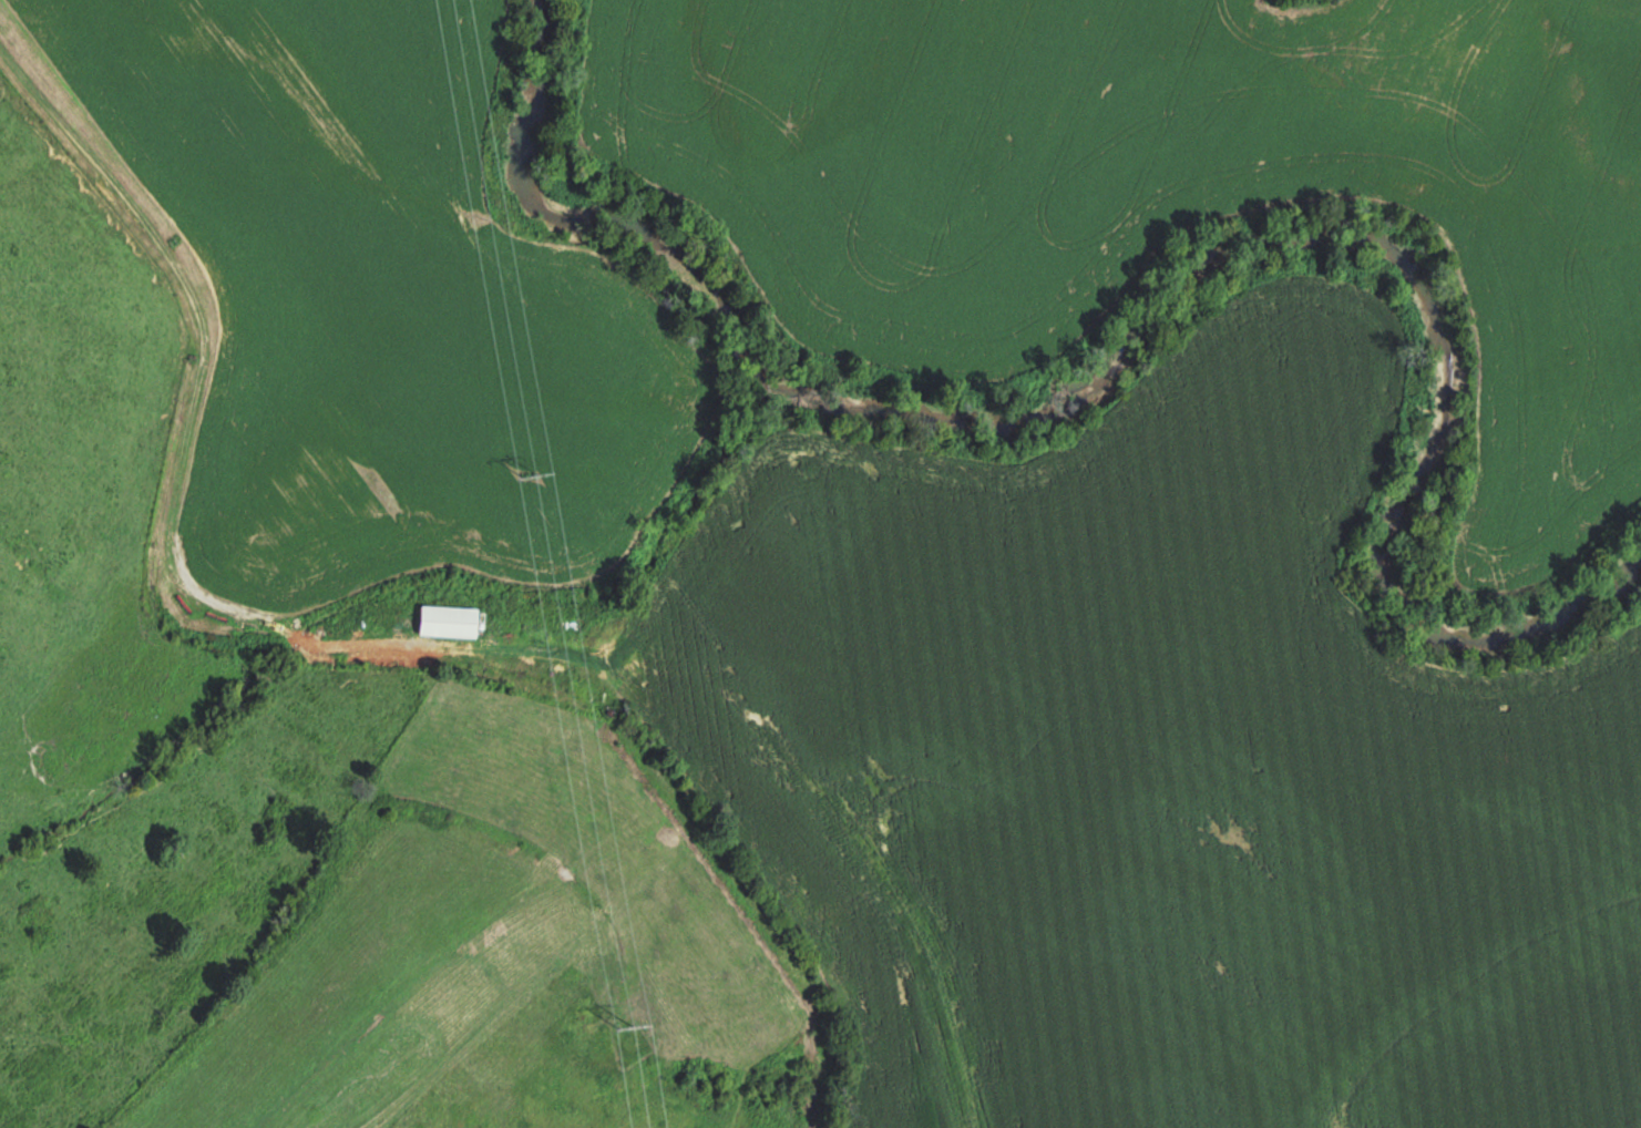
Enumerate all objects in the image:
power tower: (526, 472)
building: (444, 622)
road: (534, 662)
power tower: (624, 1028)

